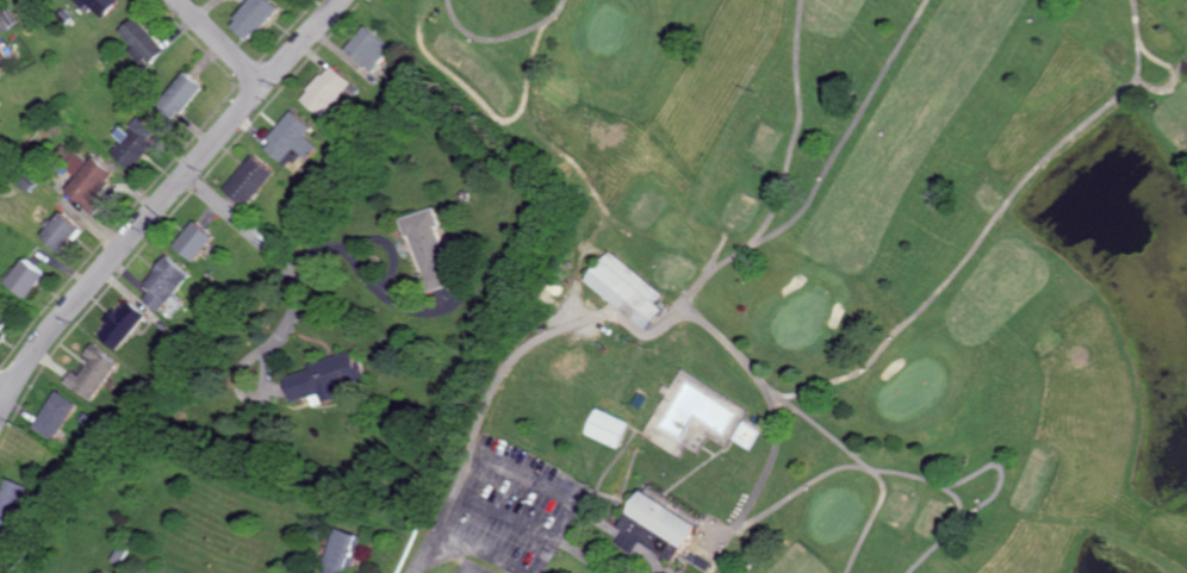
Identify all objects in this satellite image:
building: (99, 5)
building: (254, 17)
building: (143, 43)
road: (218, 43)
building: (365, 49)
building: (4, 61)
building: (323, 91)
building: (180, 96)
building: (288, 139)
building: (135, 142)
building: (75, 163)
building: (246, 180)
building: (91, 182)
road: (162, 198)
road: (236, 219)
building: (58, 231)
building: (192, 239)
building: (428, 248)
building: (23, 278)
building: (161, 282)
building: (623, 288)
park: (822, 288)
building: (1, 319)
building: (118, 324)
building: (1, 334)
building: (89, 373)
building: (322, 378)
road: (4, 387)
building: (50, 415)
building: (604, 426)
road: (477, 435)
building: (8, 502)
road: (502, 511)
building: (652, 527)
road: (552, 540)
building: (337, 550)
park: (470, 567)

